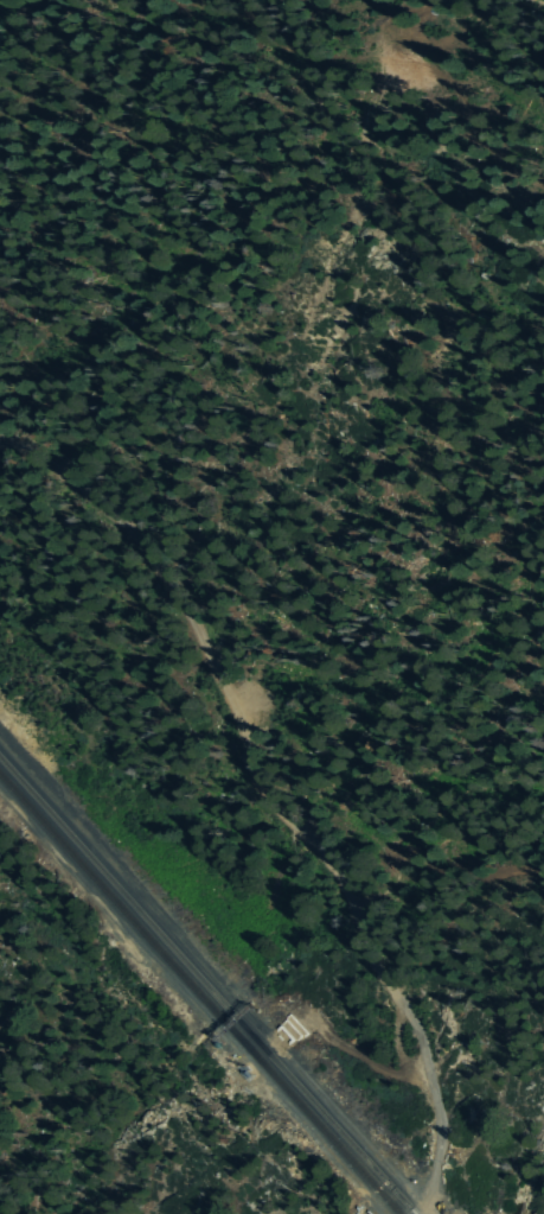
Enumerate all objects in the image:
road: (257, 776)
railway: (205, 986)
railway: (198, 996)
road: (427, 1188)

